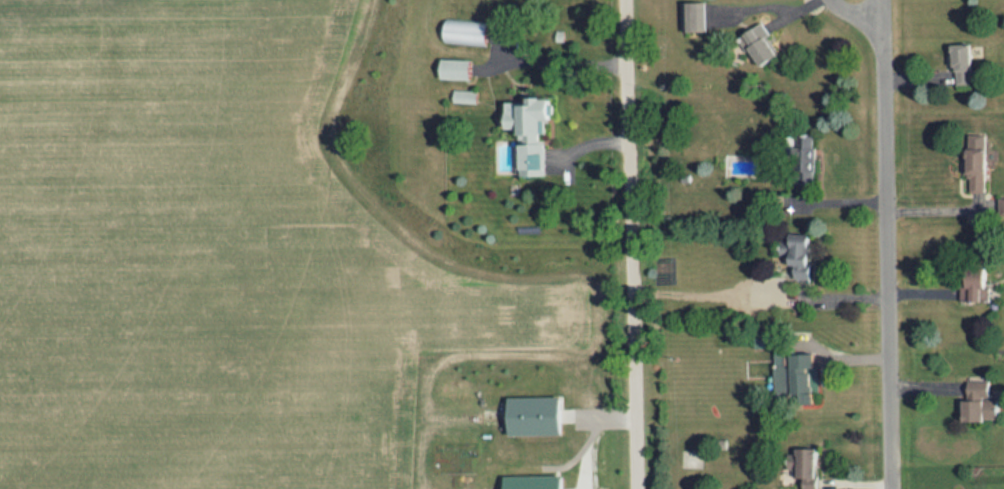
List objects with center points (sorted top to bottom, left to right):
building: (694, 16)
building: (464, 32)
building: (761, 44)
road: (560, 60)
building: (962, 64)
building: (456, 68)
building: (465, 96)
building: (532, 132)
building: (804, 157)
building: (976, 163)
road: (836, 199)
building: (1001, 206)
road: (940, 210)
road: (888, 242)
road: (631, 244)
building: (796, 253)
building: (974, 284)
road: (921, 296)
building: (795, 375)
building: (978, 402)
building: (534, 415)
building: (803, 466)
building: (533, 482)

